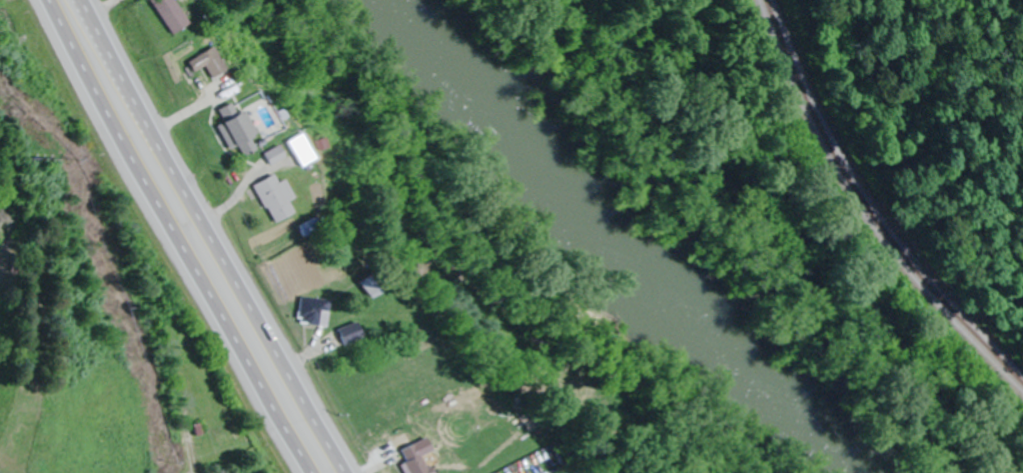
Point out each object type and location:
building: (157, 14)
building: (197, 63)
building: (229, 130)
building: (292, 150)
building: (269, 198)
railway: (868, 208)
road: (174, 237)
road: (214, 237)
river: (623, 245)
building: (363, 288)
building: (308, 312)
building: (347, 334)
building: (407, 460)

